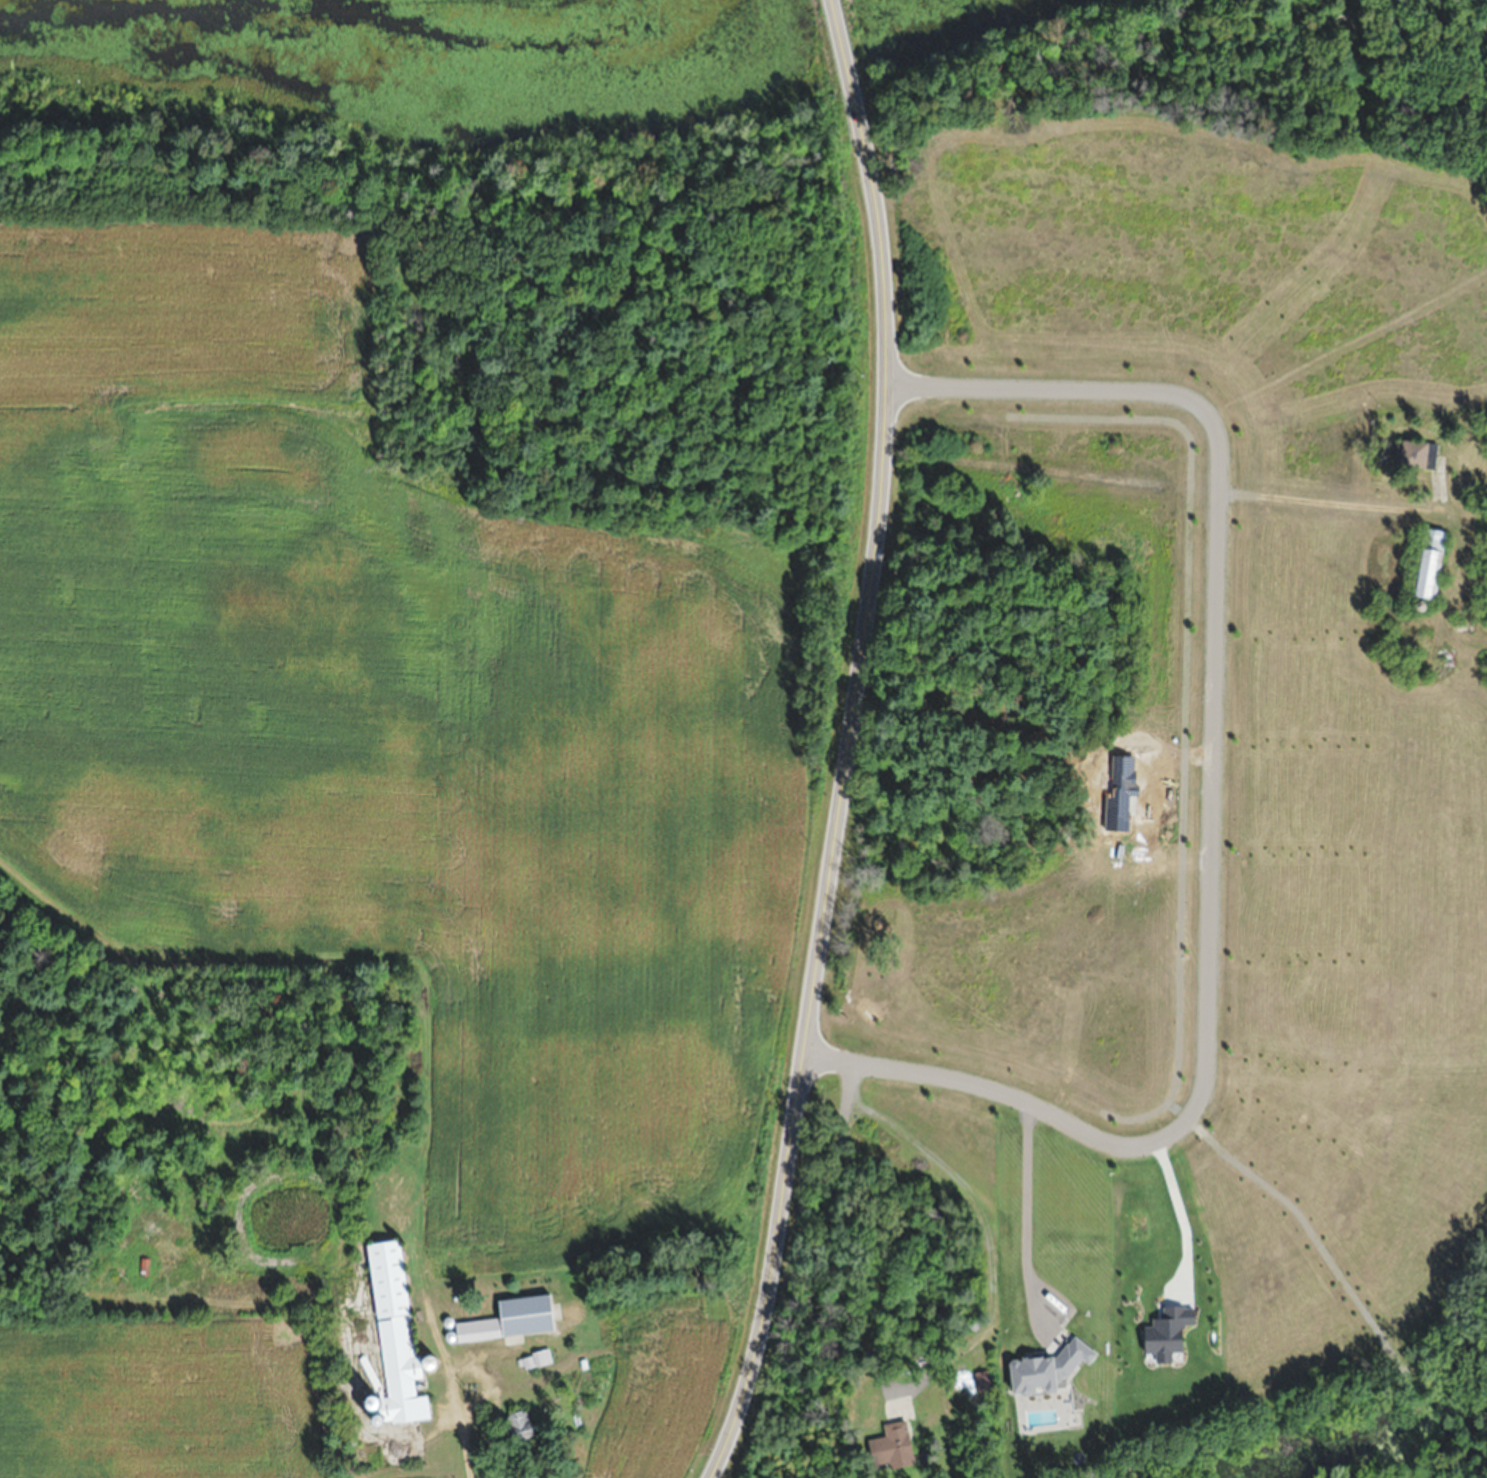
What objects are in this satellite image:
building: (1417, 451)
road: (1319, 495)
building: (1428, 562)
road: (852, 742)
road: (1199, 806)
building: (511, 1319)
building: (395, 1332)
building: (536, 1358)
building: (519, 1424)
building: (891, 1446)
building: (1216, 1471)

